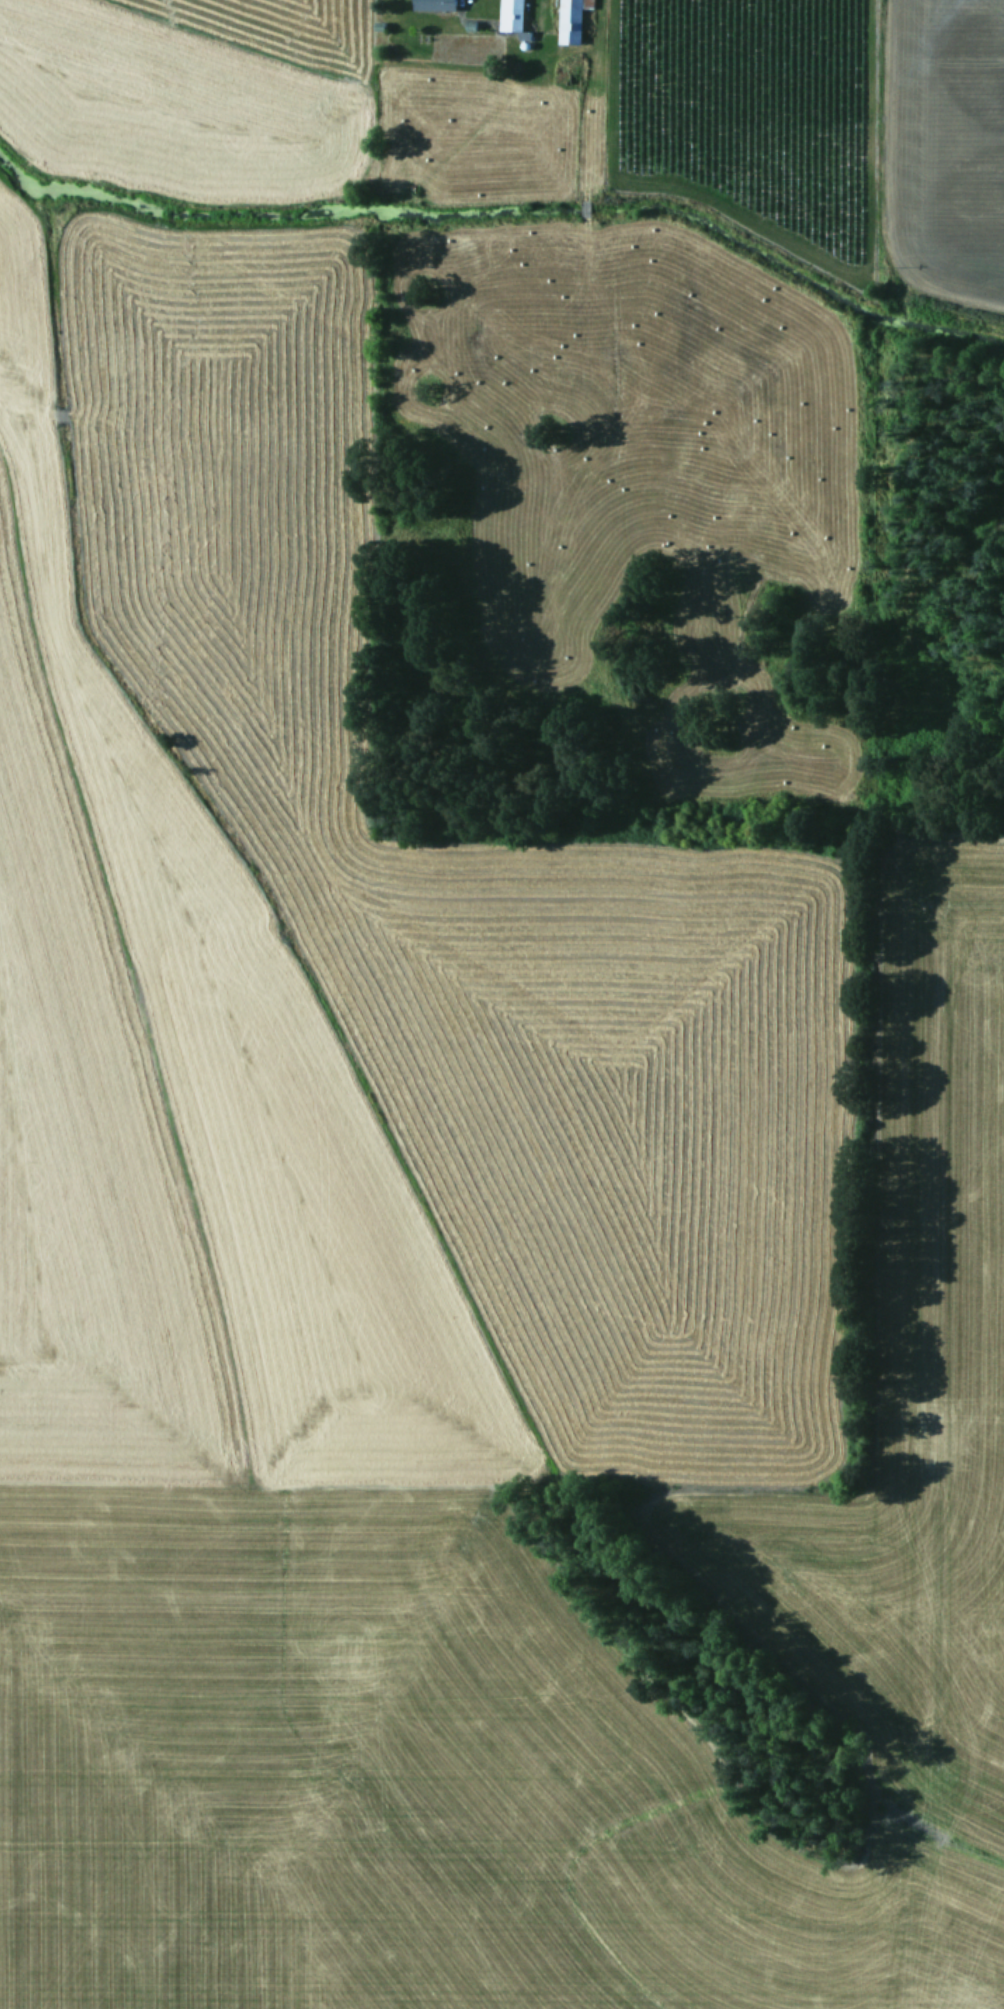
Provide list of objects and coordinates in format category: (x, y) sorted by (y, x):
road: (373, 10)
building: (510, 15)
building: (570, 20)
crop: (502, 1004)

